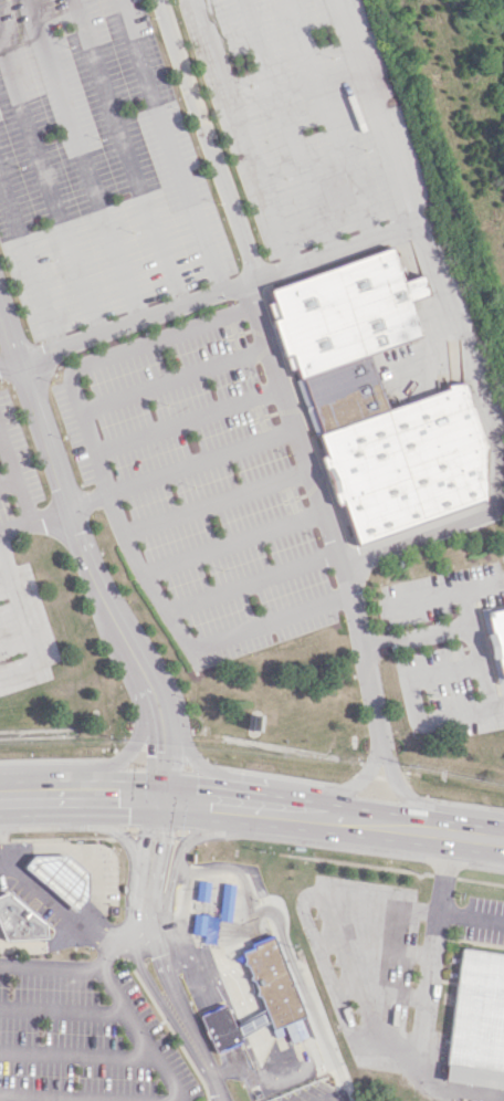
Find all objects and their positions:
road: (371, 114)
parking lot: (308, 115)
road: (329, 120)
road: (286, 127)
road: (246, 134)
road: (170, 146)
road: (125, 153)
road: (87, 159)
parking lot: (97, 164)
road: (49, 191)
road: (422, 237)
road: (29, 263)
parking lot: (0, 354)
road: (273, 376)
road: (170, 380)
building: (378, 399)
road: (186, 422)
road: (3, 438)
road: (13, 460)
parking lot: (14, 469)
road: (179, 469)
parking lot: (198, 484)
road: (216, 505)
road: (113, 508)
road: (70, 513)
road: (34, 521)
road: (232, 545)
road: (250, 583)
road: (465, 589)
road: (426, 597)
road: (24, 622)
road: (465, 626)
building: (497, 636)
road: (412, 696)
road: (162, 754)
road: (116, 761)
road: (199, 764)
road: (345, 789)
road: (30, 797)
road: (113, 797)
traffic signals: (165, 798)
road: (410, 798)
road: (209, 800)
road: (277, 808)
road: (375, 821)
road: (476, 836)
road: (55, 839)
road: (91, 851)
road: (360, 864)
road: (443, 874)
building: (56, 875)
road: (479, 881)
road: (31, 891)
road: (472, 916)
building: (20, 922)
road: (90, 934)
road: (351, 939)
road: (159, 952)
road: (84, 963)
road: (221, 963)
road: (292, 973)
road: (399, 986)
road: (430, 987)
building: (273, 989)
road: (61, 1004)
building: (477, 1020)
building: (219, 1028)
road: (74, 1052)
road: (166, 1100)
road: (325, 1100)

